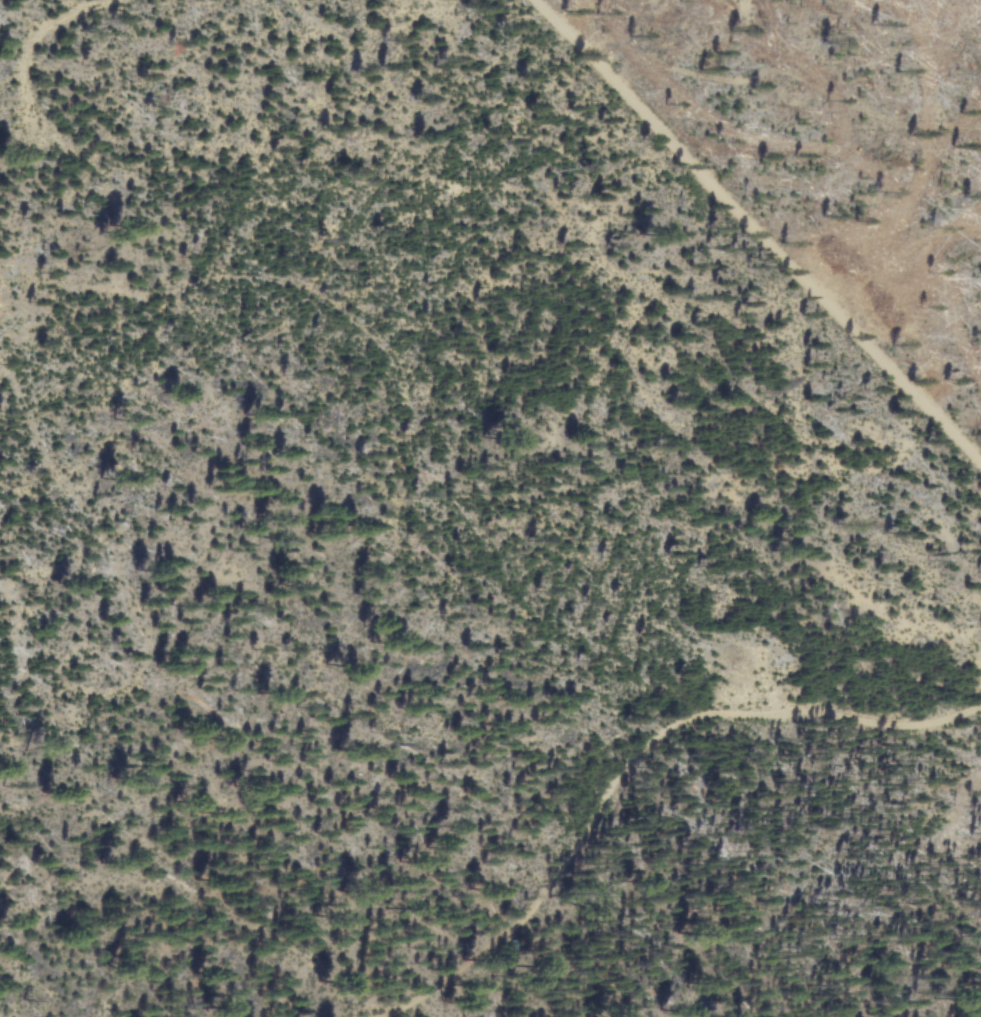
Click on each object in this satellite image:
road: (743, 235)
road: (588, 765)

